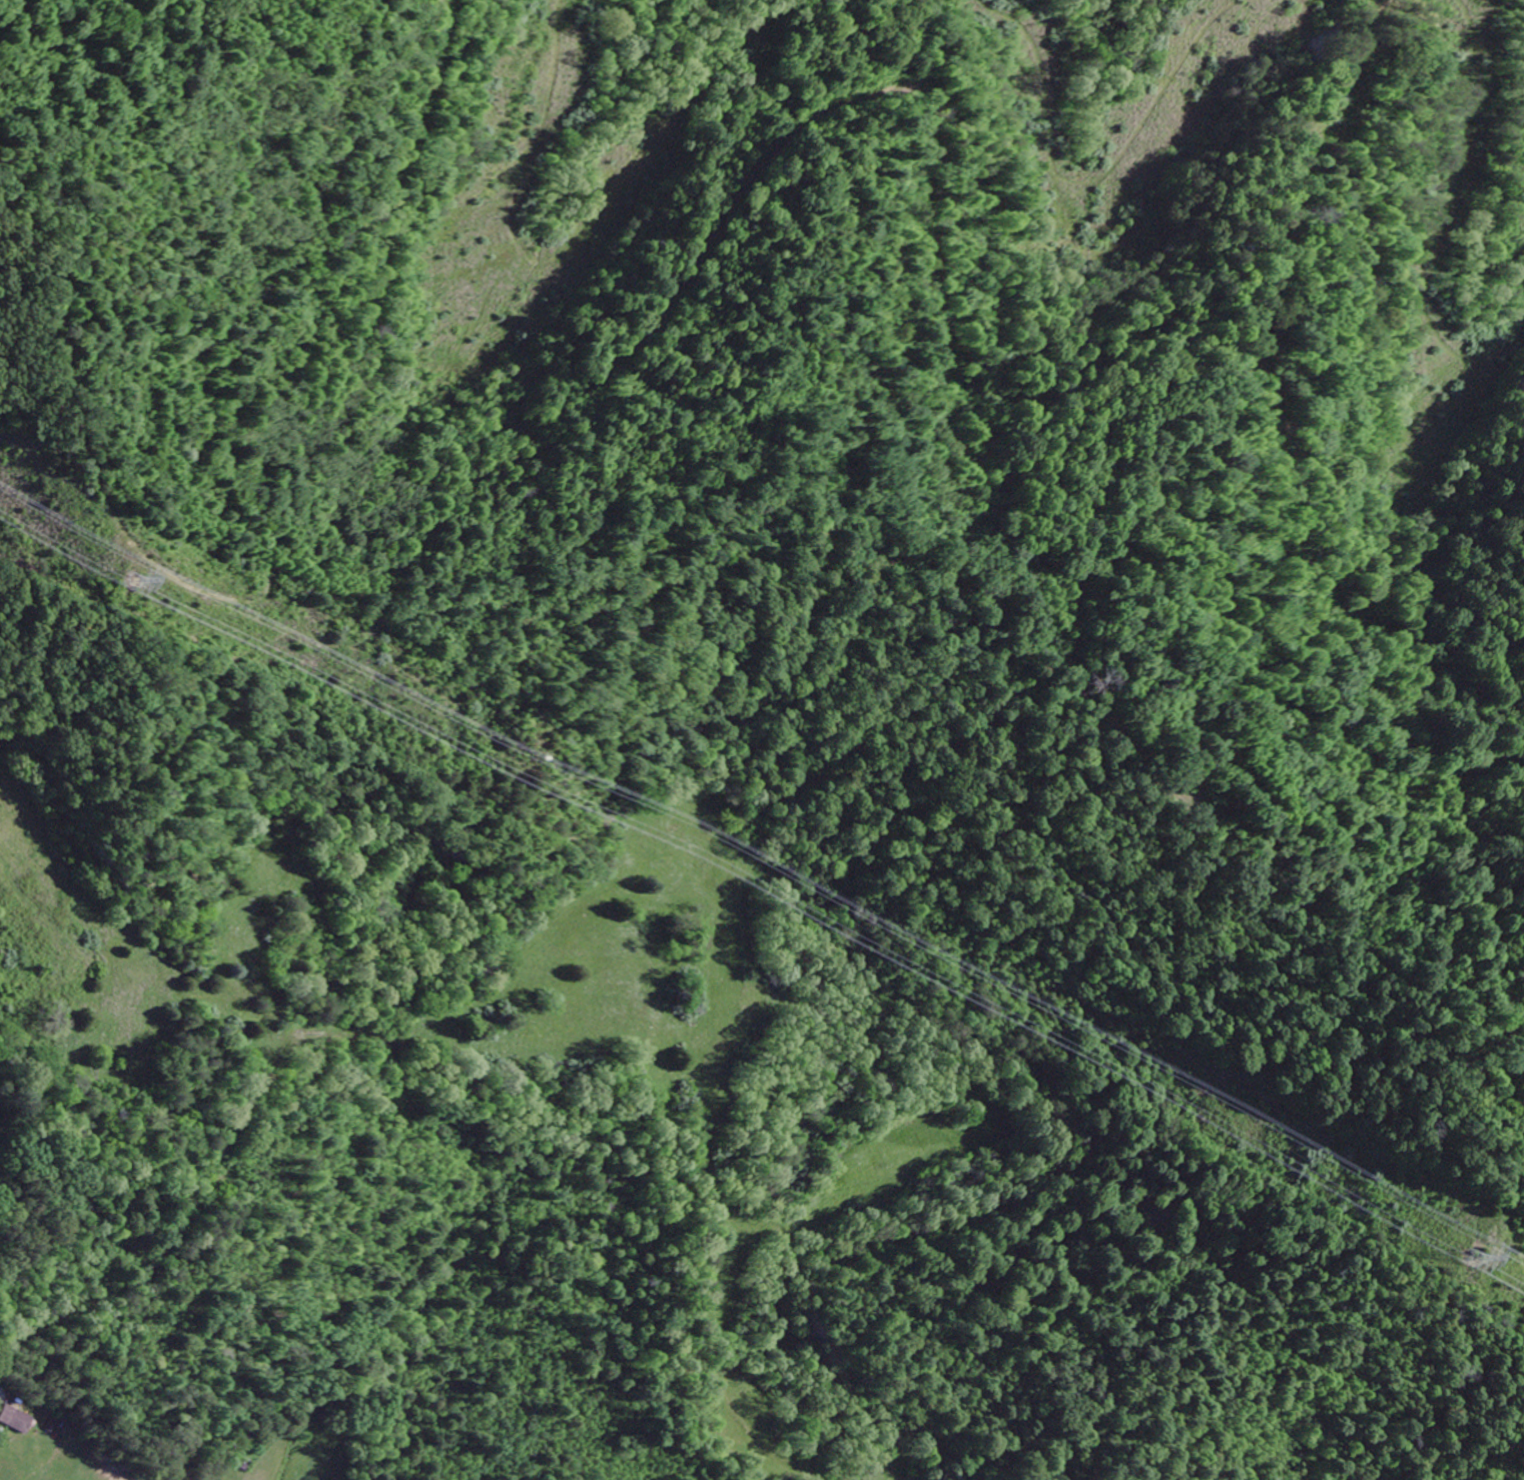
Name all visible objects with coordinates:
power tower: (130, 583)
power tower: (1470, 1256)
building: (16, 1419)

